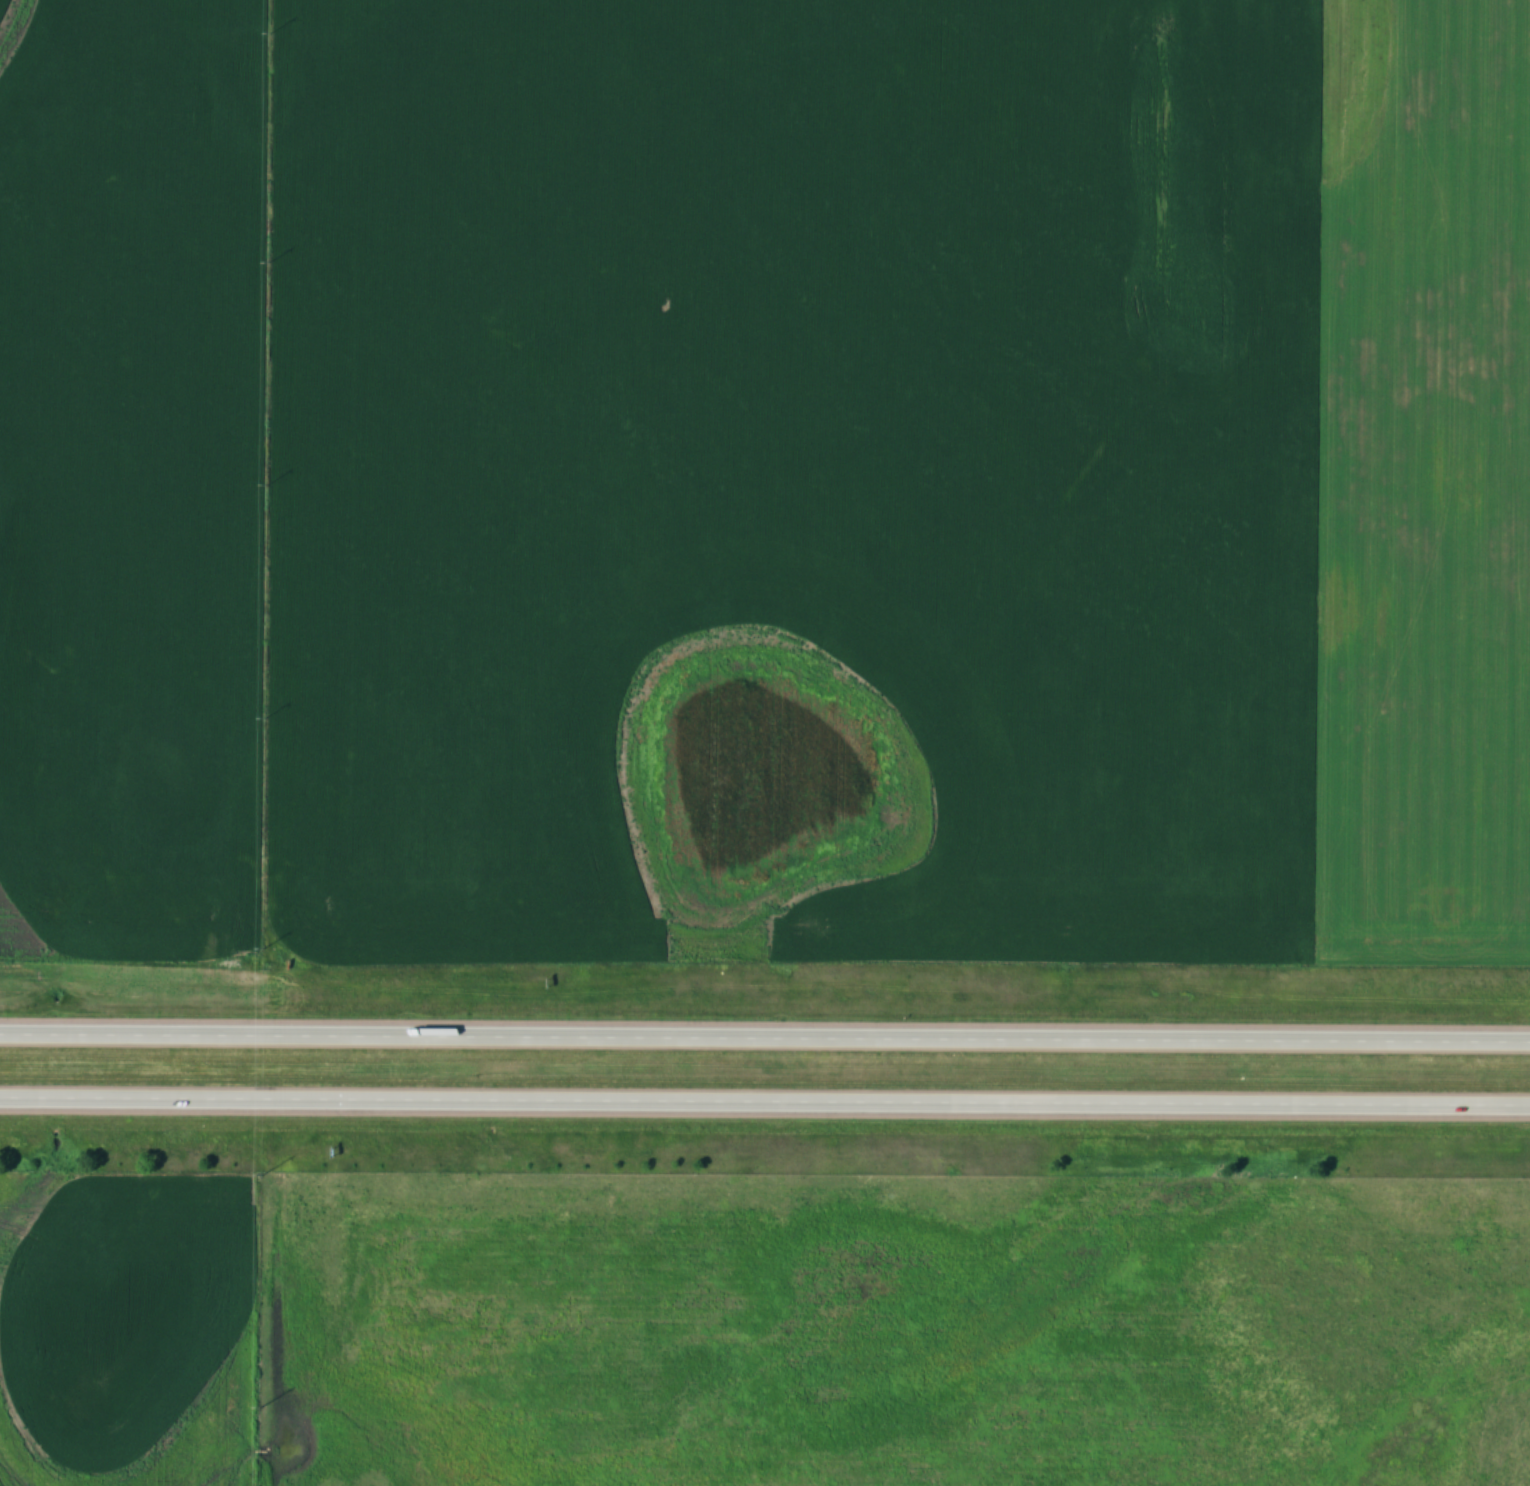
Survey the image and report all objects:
road: (765, 1036)
road: (765, 1101)

